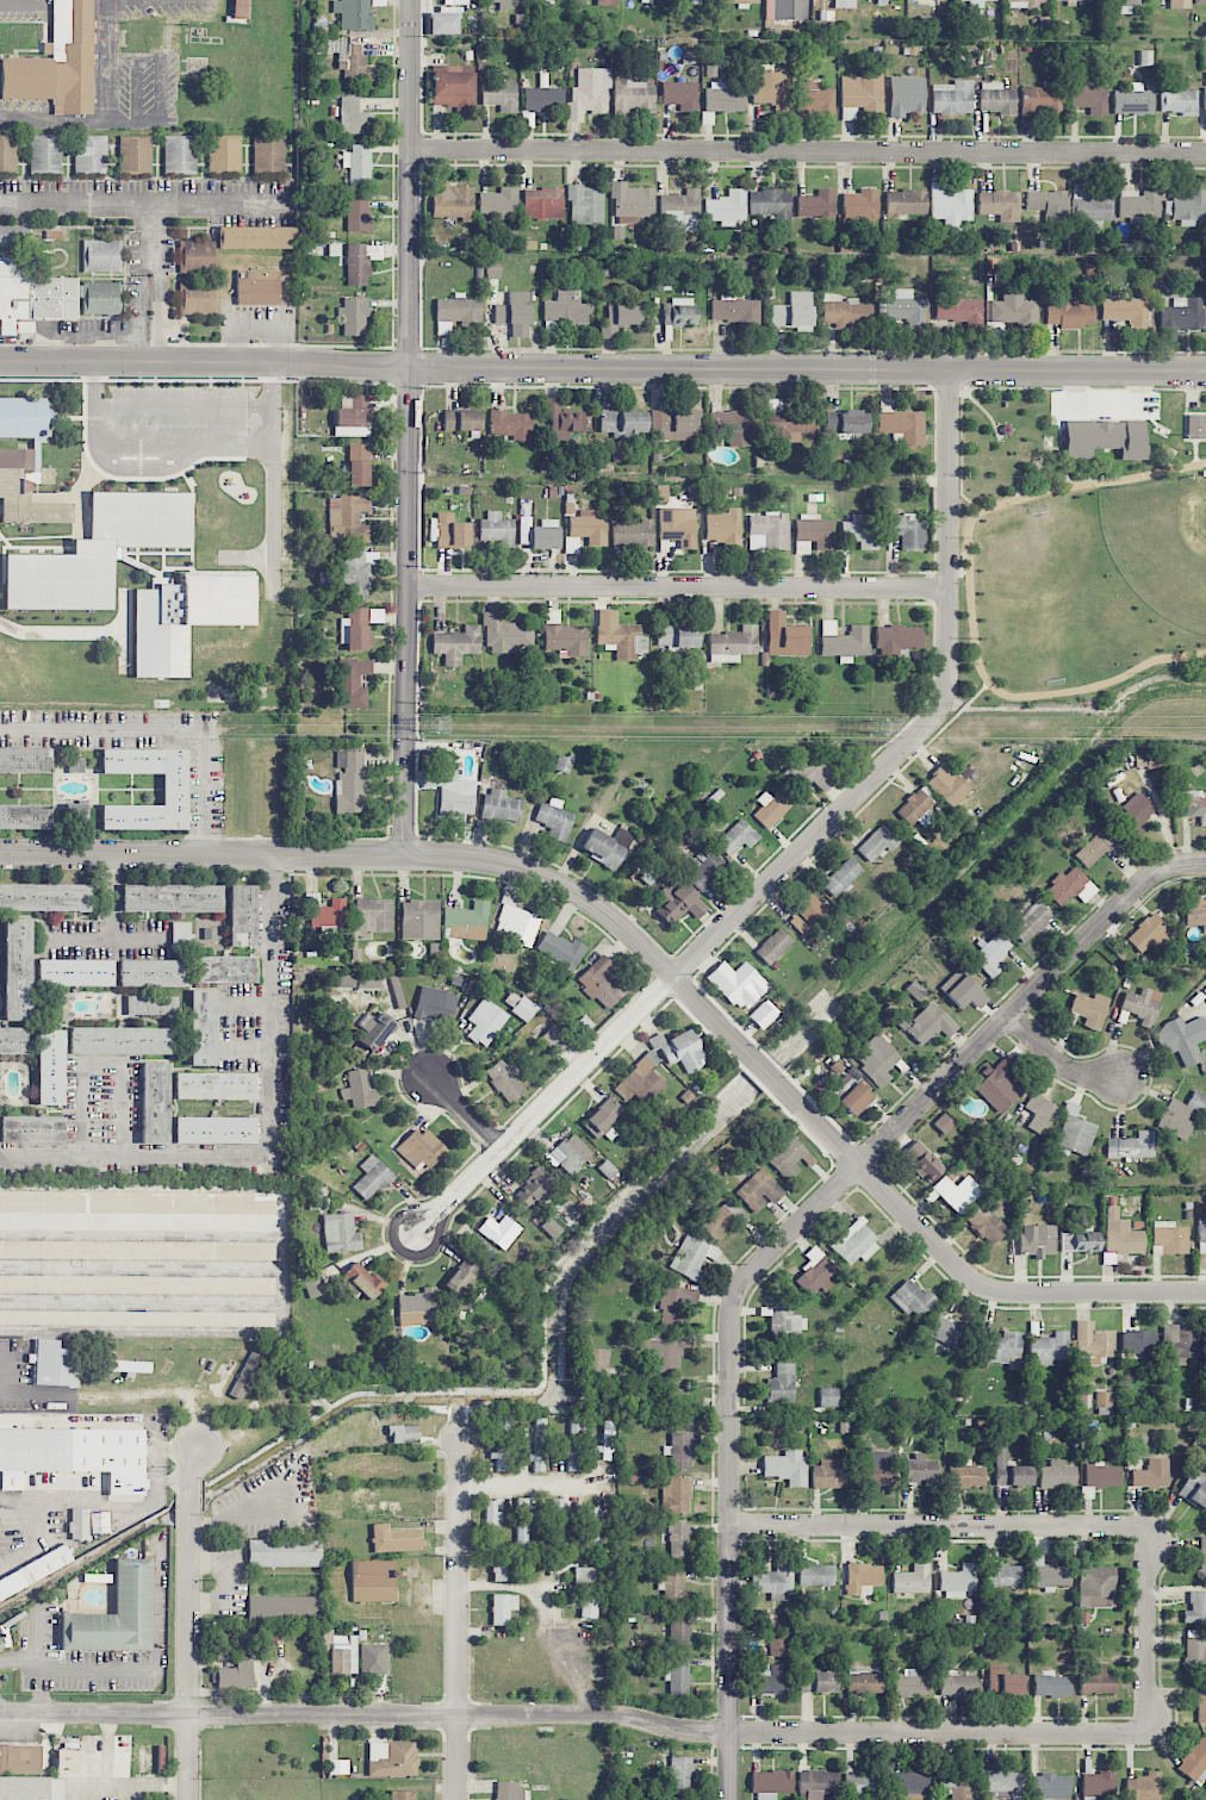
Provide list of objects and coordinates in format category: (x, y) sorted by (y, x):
building: (1080, 0)
building: (455, 1)
building: (688, 1)
building: (1200, 1)
building: (378, 2)
building: (607, 2)
building: (977, 2)
building: (1026, 2)
building: (504, 4)
building: (844, 4)
building: (1179, 4)
building: (1123, 5)
building: (241, 8)
building: (445, 10)
building: (785, 10)
building: (354, 13)
building: (520, 23)
building: (443, 24)
building: (346, 57)
building: (57, 62)
road: (136, 88)
road: (160, 88)
building: (772, 88)
building: (453, 89)
building: (589, 93)
building: (860, 93)
building: (498, 94)
building: (680, 94)
building: (634, 95)
building: (906, 95)
building: (815, 96)
building: (725, 98)
building: (952, 98)
building: (996, 98)
building: (1089, 98)
building: (1204, 98)
building: (543, 99)
building: (1177, 99)
building: (1042, 100)
building: (1132, 100)
road: (105, 112)
building: (354, 117)
building: (8, 152)
building: (45, 152)
building: (91, 154)
building: (136, 154)
building: (179, 154)
building: (224, 154)
building: (268, 155)
road: (808, 155)
building: (358, 163)
building: (452, 200)
building: (906, 201)
building: (1138, 201)
road: (151, 203)
building: (498, 203)
building: (542, 203)
building: (630, 203)
building: (770, 203)
building: (816, 204)
building: (1000, 204)
building: (1049, 204)
building: (585, 205)
building: (950, 205)
building: (859, 206)
building: (726, 207)
building: (1186, 207)
building: (1092, 208)
building: (680, 210)
building: (358, 214)
building: (8, 236)
building: (232, 244)
building: (334, 249)
building: (101, 255)
building: (360, 262)
building: (492, 270)
building: (1002, 272)
road: (155, 284)
building: (257, 286)
building: (32, 295)
building: (101, 298)
building: (199, 299)
building: (904, 309)
building: (565, 310)
building: (735, 310)
building: (959, 310)
building: (1014, 310)
building: (1127, 311)
building: (456, 312)
building: (678, 312)
building: (794, 312)
building: (511, 313)
building: (846, 313)
building: (1071, 313)
building: (354, 316)
building: (622, 316)
building: (1181, 316)
road: (602, 372)
road: (95, 385)
road: (273, 385)
building: (359, 400)
road: (184, 405)
building: (24, 416)
building: (562, 419)
building: (621, 419)
building: (461, 421)
building: (352, 422)
building: (844, 422)
building: (787, 423)
building: (510, 424)
building: (676, 424)
building: (733, 425)
building: (902, 425)
building: (1195, 426)
road: (409, 428)
building: (1105, 438)
road: (184, 446)
building: (359, 465)
building: (26, 491)
road: (274, 509)
building: (347, 519)
building: (678, 525)
building: (588, 527)
building: (723, 527)
building: (497, 529)
building: (769, 530)
building: (860, 530)
building: (450, 531)
building: (906, 531)
building: (812, 532)
building: (633, 534)
park: (1081, 542)
building: (98, 550)
building: (352, 573)
road: (680, 588)
building: (185, 617)
road: (61, 628)
building: (355, 629)
building: (505, 634)
building: (620, 636)
building: (677, 636)
building: (785, 636)
building: (566, 639)
building: (897, 639)
building: (843, 641)
building: (456, 643)
building: (732, 643)
building: (350, 683)
power tower: (429, 725)
power tower: (881, 727)
road: (161, 729)
building: (24, 759)
building: (1148, 759)
building: (561, 764)
building: (808, 773)
building: (349, 781)
building: (947, 785)
building: (174, 789)
building: (450, 790)
building: (1194, 804)
building: (501, 805)
building: (771, 808)
building: (915, 809)
building: (1133, 814)
building: (76, 815)
building: (25, 816)
building: (555, 818)
building: (736, 836)
building: (877, 843)
building: (607, 846)
building: (1096, 847)
road: (201, 853)
road: (797, 855)
building: (704, 868)
building: (841, 877)
building: (1070, 886)
building: (45, 896)
building: (172, 897)
building: (676, 903)
building: (325, 911)
building: (1195, 913)
building: (807, 914)
building: (242, 915)
building: (373, 915)
building: (418, 918)
building: (466, 921)
road: (110, 922)
building: (1030, 922)
building: (515, 924)
building: (1149, 933)
building: (180, 934)
road: (75, 938)
building: (773, 946)
building: (560, 948)
building: (990, 953)
road: (657, 961)
building: (18, 968)
building: (225, 968)
building: (75, 972)
building: (150, 972)
building: (367, 982)
building: (602, 984)
building: (738, 984)
building: (963, 990)
road: (1024, 999)
building: (435, 1003)
building: (151, 1004)
building: (1142, 1005)
building: (523, 1008)
building: (1089, 1009)
building: (763, 1014)
building: (485, 1021)
building: (931, 1023)
building: (203, 1027)
building: (374, 1029)
building: (1182, 1039)
building: (11, 1040)
building: (119, 1040)
building: (554, 1040)
building: (679, 1050)
road: (1057, 1058)
building: (877, 1059)
building: (50, 1067)
building: (505, 1080)
building: (639, 1082)
building: (1000, 1084)
building: (215, 1085)
building: (359, 1089)
building: (854, 1098)
building: (1196, 1101)
building: (154, 1102)
road: (85, 1110)
road: (126, 1110)
building: (1040, 1113)
road: (466, 1115)
building: (603, 1116)
building: (1175, 1119)
building: (943, 1123)
building: (32, 1128)
building: (215, 1129)
building: (1075, 1132)
building: (1131, 1145)
road: (275, 1147)
building: (421, 1148)
building: (570, 1153)
building: (789, 1156)
building: (922, 1161)
building: (372, 1177)
building: (533, 1186)
building: (759, 1190)
building: (955, 1192)
building: (137, 1201)
building: (721, 1220)
road: (142, 1221)
building: (987, 1225)
building: (498, 1228)
road: (794, 1228)
building: (340, 1233)
building: (1121, 1234)
building: (1201, 1235)
building: (1168, 1238)
building: (1037, 1240)
building: (1078, 1241)
building: (854, 1242)
building: (138, 1247)
building: (694, 1257)
road: (285, 1258)
road: (142, 1263)
building: (816, 1271)
building: (467, 1272)
building: (362, 1281)
building: (138, 1283)
building: (313, 1284)
road: (1006, 1293)
road: (142, 1298)
building: (913, 1298)
building: (676, 1303)
building: (418, 1307)
building: (137, 1318)
building: (785, 1325)
building: (944, 1331)
building: (1093, 1343)
building: (1139, 1343)
building: (1179, 1344)
building: (1005, 1349)
building: (1049, 1349)
building: (663, 1353)
building: (54, 1364)
building: (128, 1366)
road: (7, 1374)
building: (245, 1375)
road: (676, 1377)
building: (782, 1383)
building: (828, 1396)
building: (1104, 1399)
building: (404, 1433)
building: (501, 1443)
building: (573, 1443)
building: (539, 1444)
building: (678, 1450)
building: (75, 1455)
building: (787, 1466)
building: (881, 1468)
building: (920, 1469)
building: (1009, 1471)
building: (831, 1474)
building: (1150, 1474)
building: (969, 1475)
building: (1057, 1475)
building: (1099, 1477)
road: (529, 1484)
building: (1194, 1490)
building: (675, 1495)
road: (102, 1502)
road: (41, 1519)
building: (490, 1522)
building: (79, 1524)
building: (522, 1525)
building: (555, 1525)
building: (592, 1526)
road: (987, 1526)
building: (394, 1539)
building: (679, 1540)
road: (731, 1547)
building: (284, 1552)
building: (1202, 1558)
building: (498, 1568)
building: (35, 1572)
building: (1048, 1574)
building: (816, 1575)
building: (1003, 1575)
building: (863, 1578)
building: (912, 1580)
road: (225, 1581)
building: (373, 1581)
building: (775, 1581)
building: (958, 1581)
building: (673, 1584)
building: (1096, 1586)
road: (514, 1587)
building: (589, 1606)
building: (502, 1607)
building: (1195, 1607)
building: (282, 1608)
building: (114, 1613)
road: (460, 1618)
road: (157, 1619)
road: (191, 1620)
building: (678, 1631)
building: (0, 1644)
road: (43, 1644)
building: (268, 1644)
building: (223, 1645)
building: (781, 1646)
building: (1194, 1652)
building: (343, 1653)
road: (81, 1668)
building: (235, 1675)
building: (678, 1675)
building: (772, 1680)
building: (1096, 1680)
building: (818, 1681)
building: (864, 1681)
building: (1002, 1681)
building: (1050, 1683)
building: (910, 1684)
building: (958, 1686)
building: (1201, 1704)
road: (628, 1717)
building: (20, 1757)
building: (391, 1758)
building: (67, 1759)
building: (1194, 1761)
road: (107, 1762)
building: (678, 1773)
building: (771, 1783)
building: (818, 1783)
building: (864, 1783)
building: (958, 1783)
building: (1006, 1783)
building: (1098, 1783)
road: (130, 1785)
building: (910, 1786)
building: (31, 1787)
building: (1050, 1787)
building: (1144, 1787)
building: (508, 1790)
building: (403, 1794)

